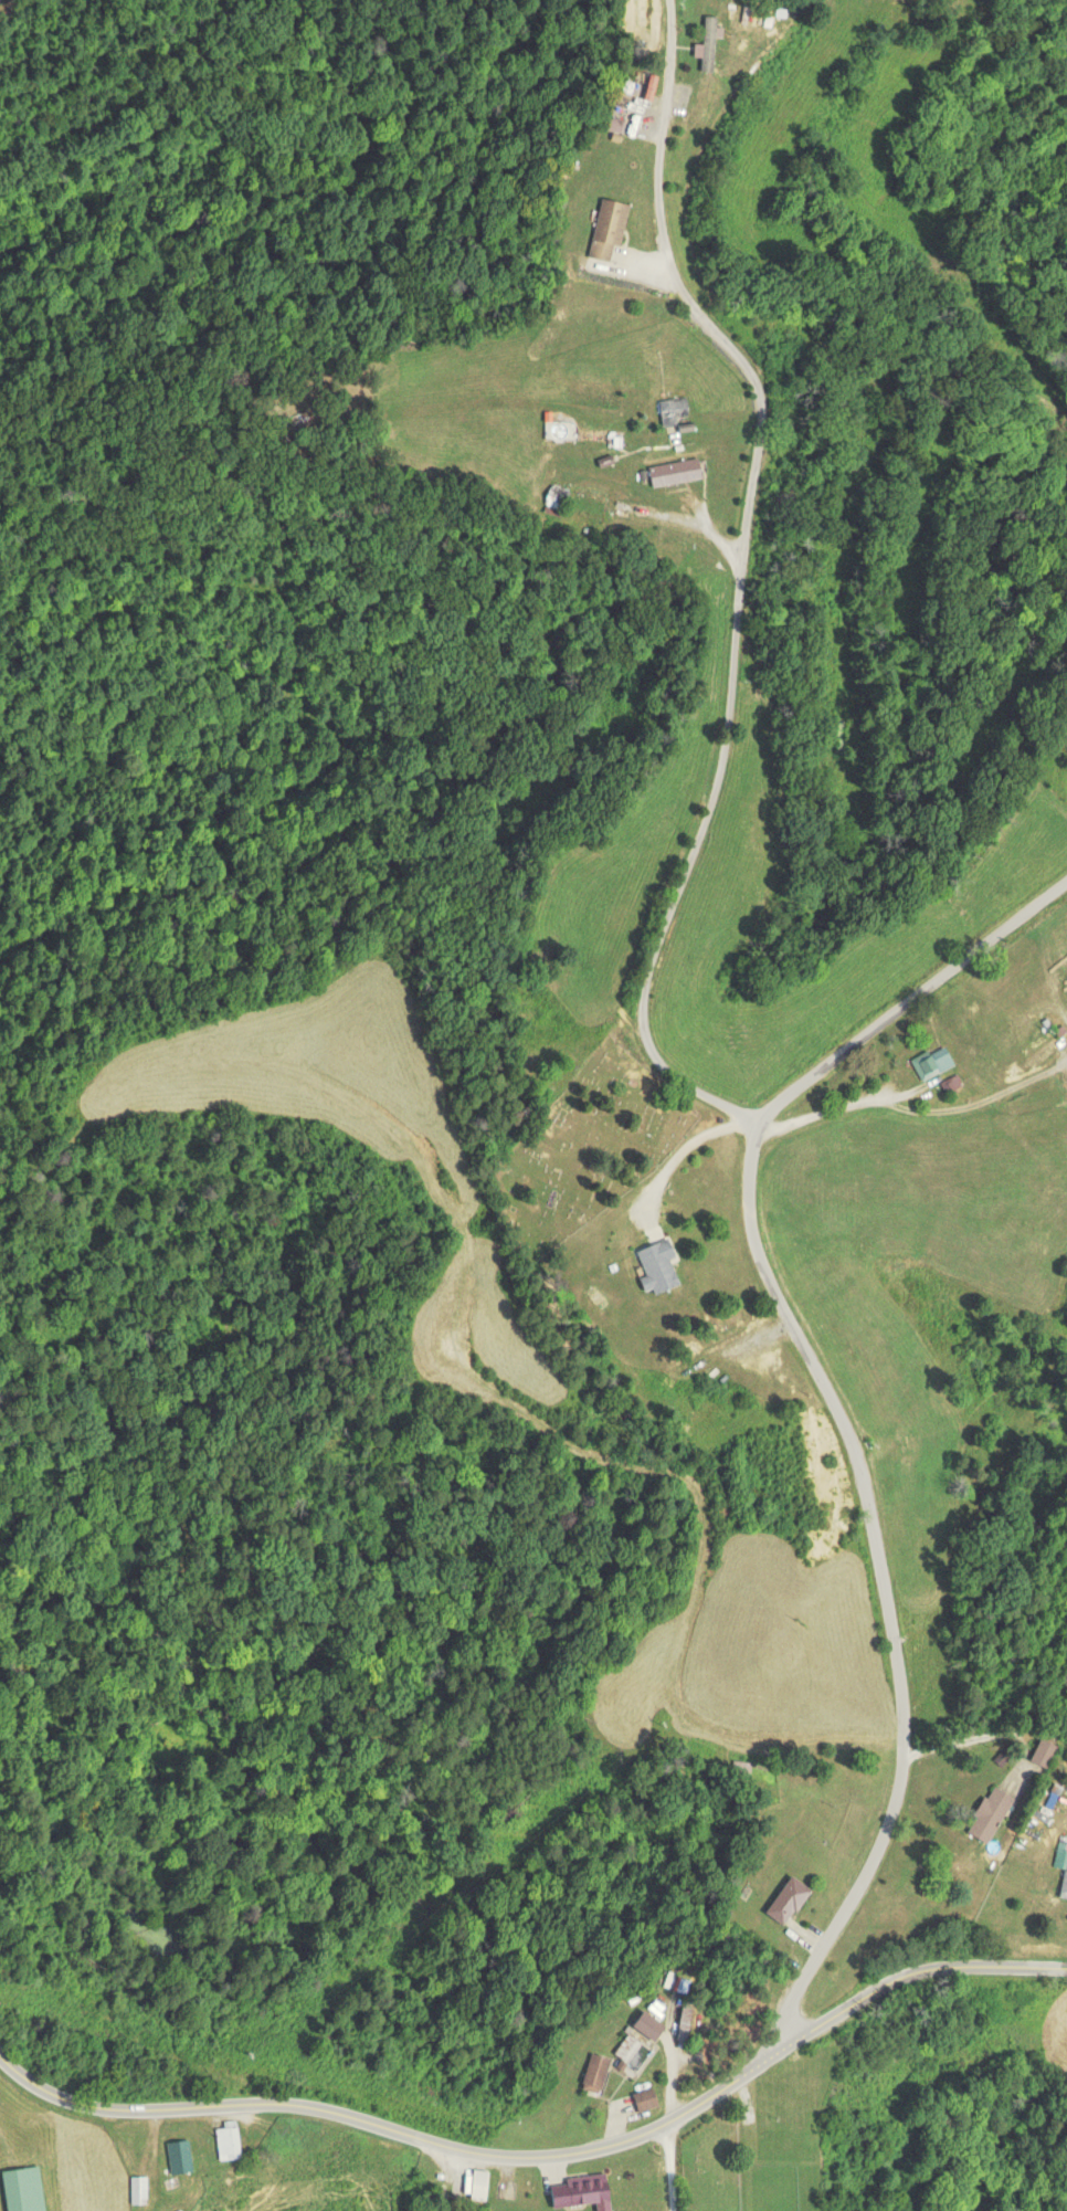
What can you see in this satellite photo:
building: (710, 46)
building: (649, 86)
building: (615, 124)
building: (609, 229)
building: (674, 409)
building: (675, 471)
building: (558, 495)
road: (752, 582)
building: (968, 1050)
building: (932, 1063)
road: (770, 1108)
building: (656, 1265)
road: (957, 1433)
building: (1043, 1752)
road: (899, 1759)
building: (989, 1814)
building: (1063, 1886)
building: (788, 1901)
road: (919, 1969)
building: (647, 2026)
building: (626, 2047)
building: (595, 2074)
road: (728, 2084)
building: (645, 2099)
road: (133, 2109)
building: (228, 2140)
road: (472, 2150)
road: (247, 2155)
building: (179, 2156)
road: (664, 2166)
building: (477, 2183)
building: (22, 2189)
building: (138, 2189)
building: (578, 2190)

